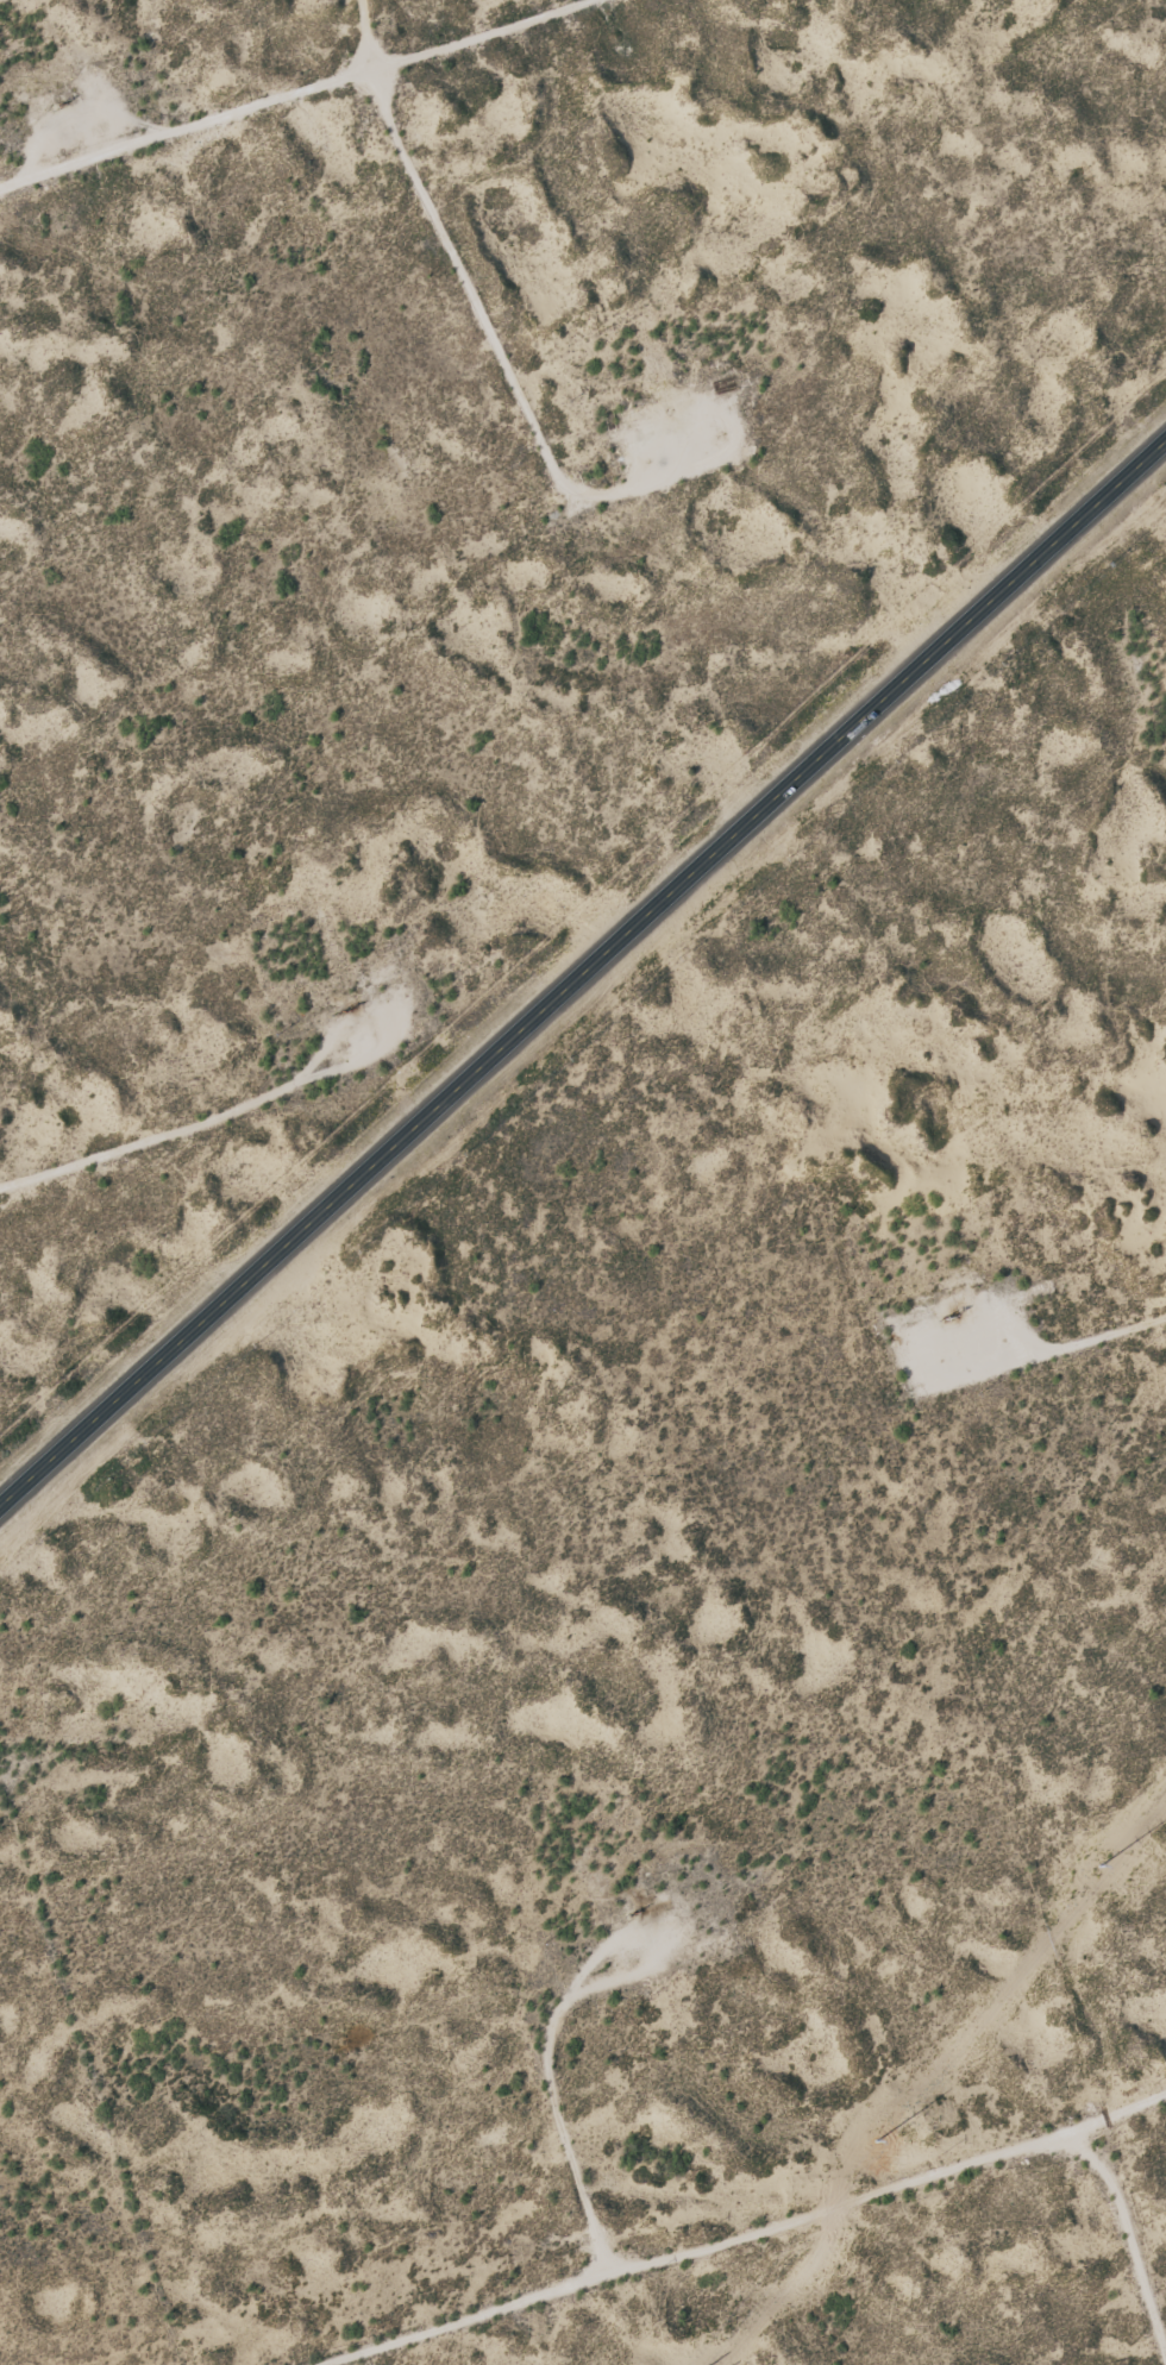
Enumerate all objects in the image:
road: (284, 90)
road: (582, 977)
road: (189, 1137)
power tower: (1142, 1852)
power tower: (894, 2157)
road: (795, 2223)

